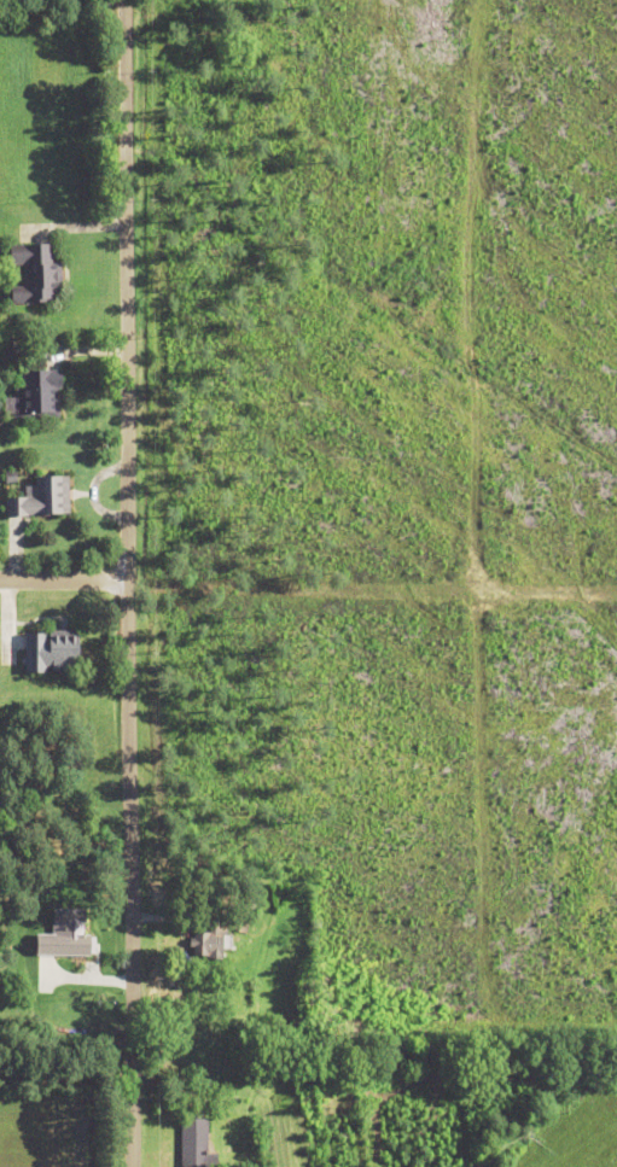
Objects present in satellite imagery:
building: (33, 274)
building: (35, 396)
building: (37, 498)
road: (64, 580)
road: (128, 583)
building: (48, 652)
building: (204, 944)
building: (192, 1144)

